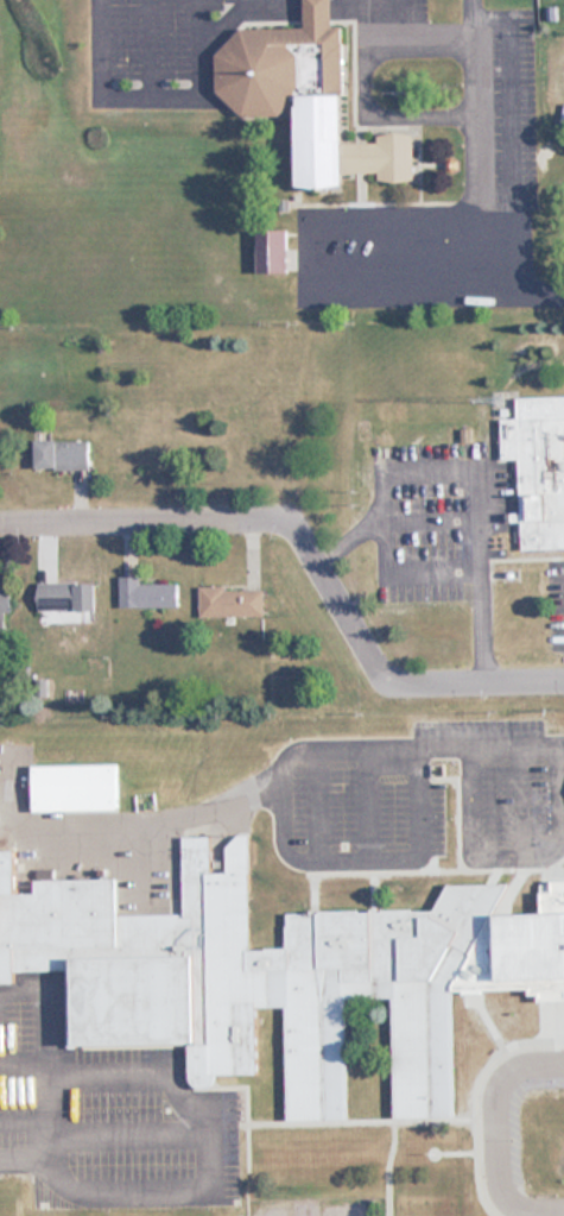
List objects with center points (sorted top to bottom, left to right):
building: (309, 99)
road: (511, 128)
building: (273, 251)
road: (311, 260)
road: (546, 292)
building: (62, 455)
building: (538, 468)
road: (465, 525)
road: (309, 553)
building: (147, 594)
building: (66, 597)
building: (233, 603)
building: (4, 607)
road: (492, 746)
building: (75, 788)
road: (292, 856)
building: (251, 977)
building: (374, 1100)
road: (493, 1134)
road: (24, 1154)

